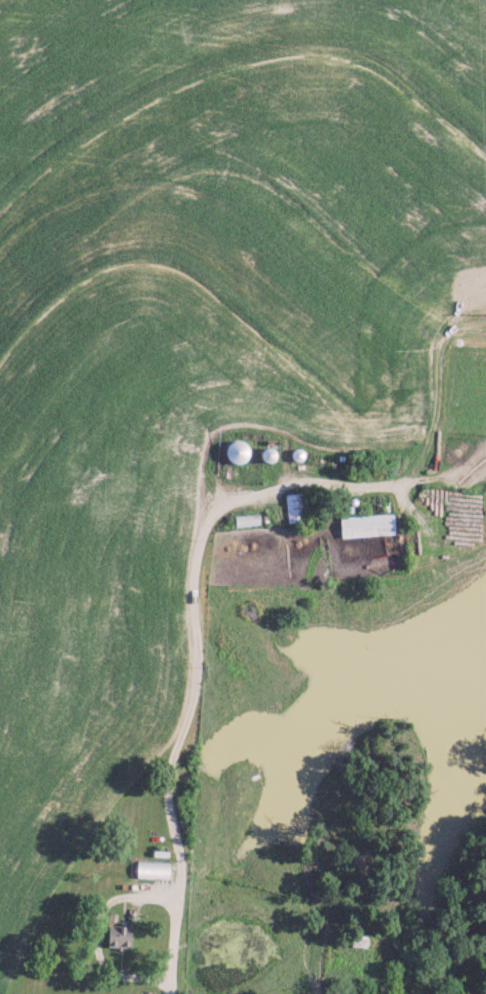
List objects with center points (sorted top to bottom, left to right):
building: (232, 451)
building: (293, 507)
building: (365, 525)
road: (203, 655)
building: (150, 869)
building: (116, 935)

